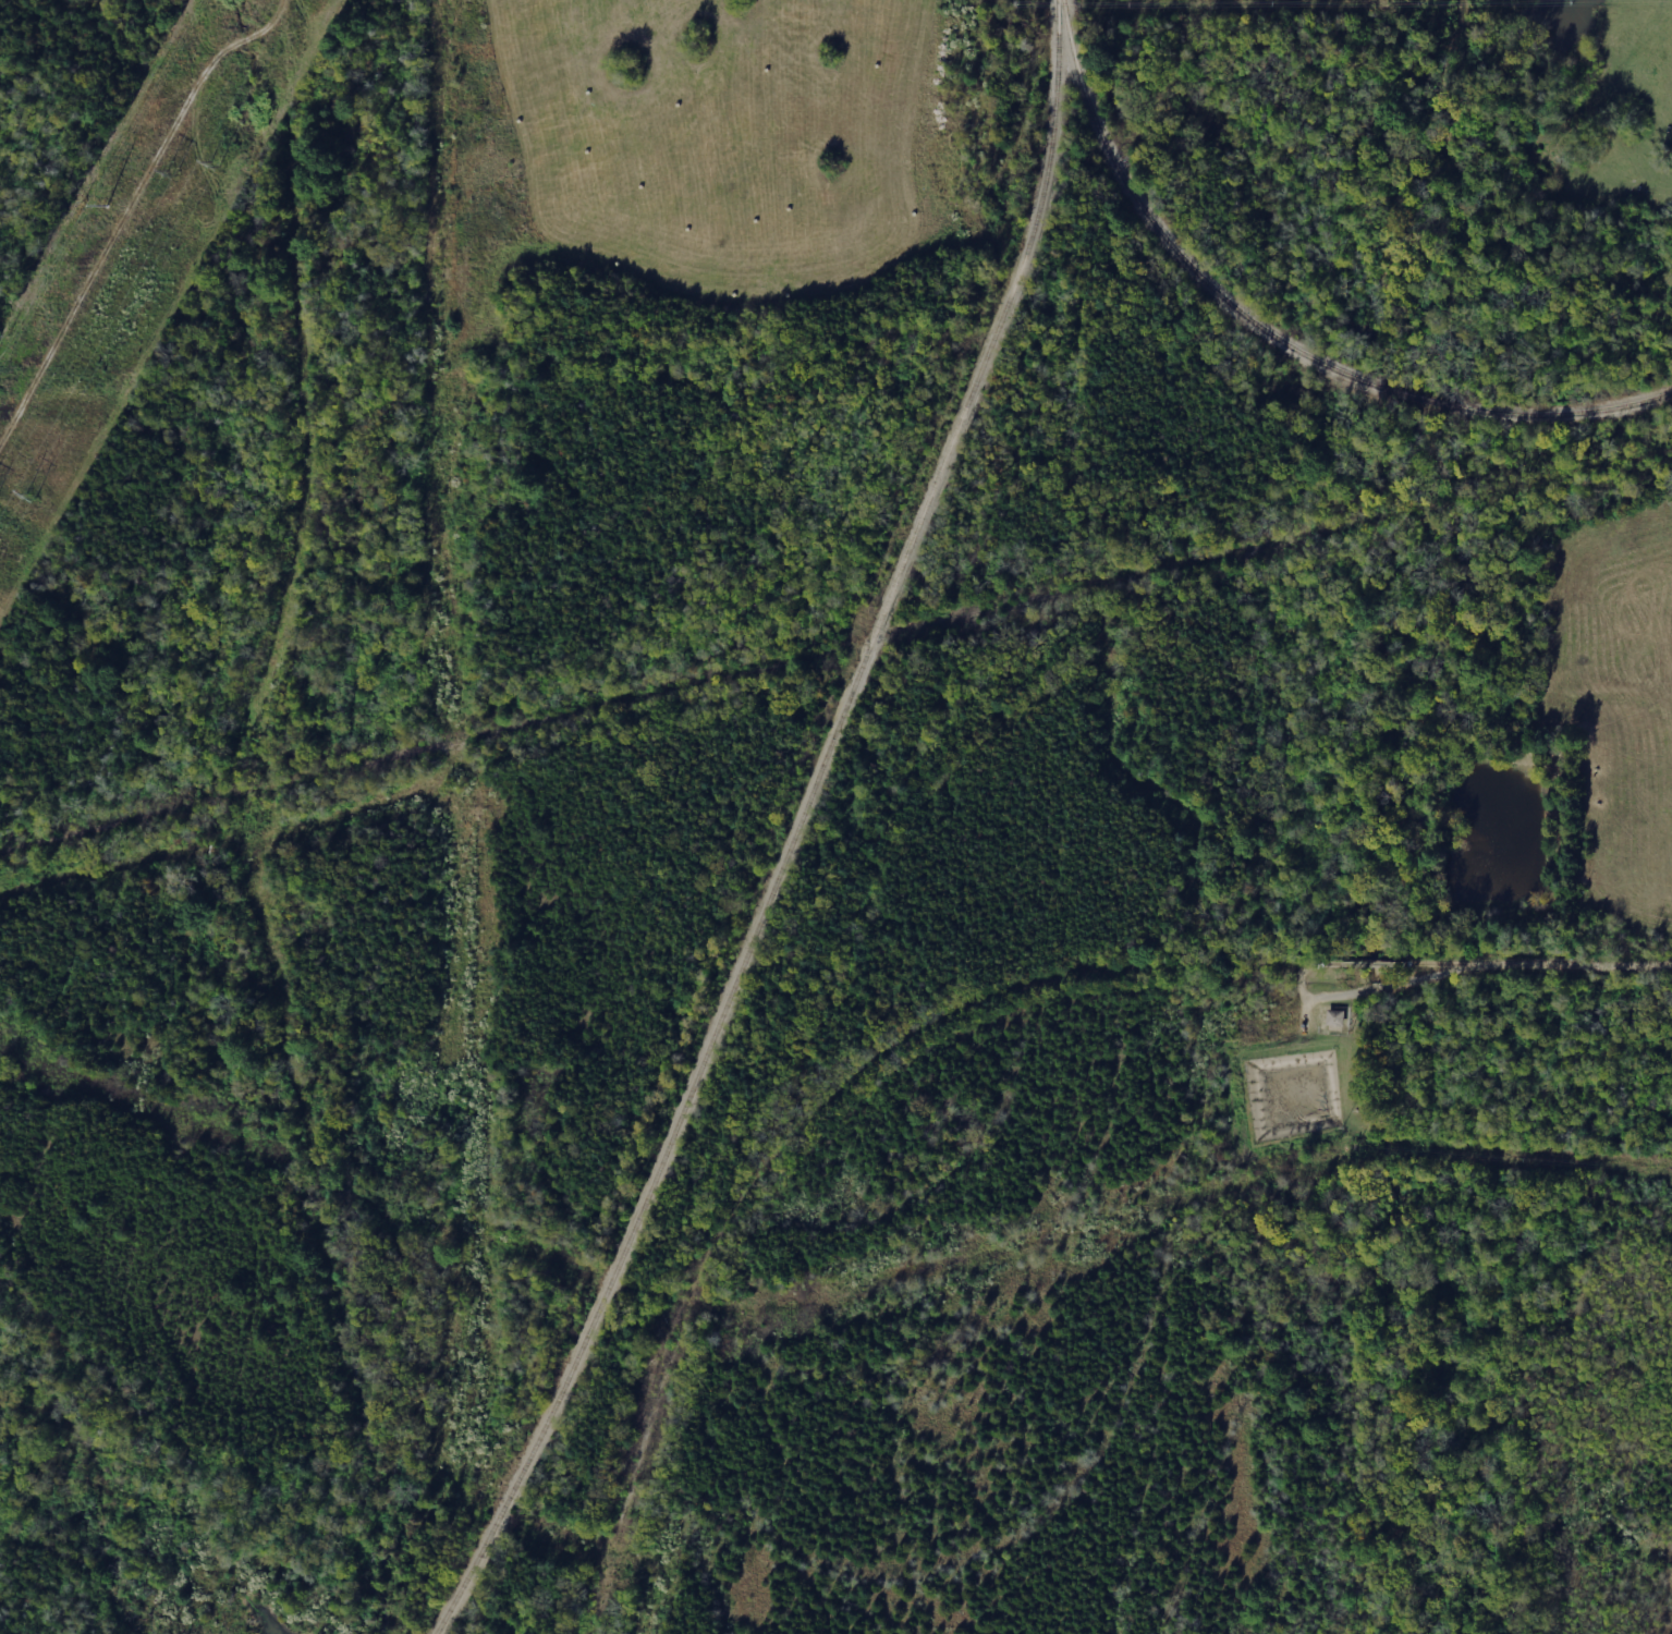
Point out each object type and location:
railway: (1165, 240)
railway: (1420, 398)
railway: (1566, 413)
railway: (1274, 541)
railway: (431, 745)
railway: (793, 831)
building: (1337, 1017)

